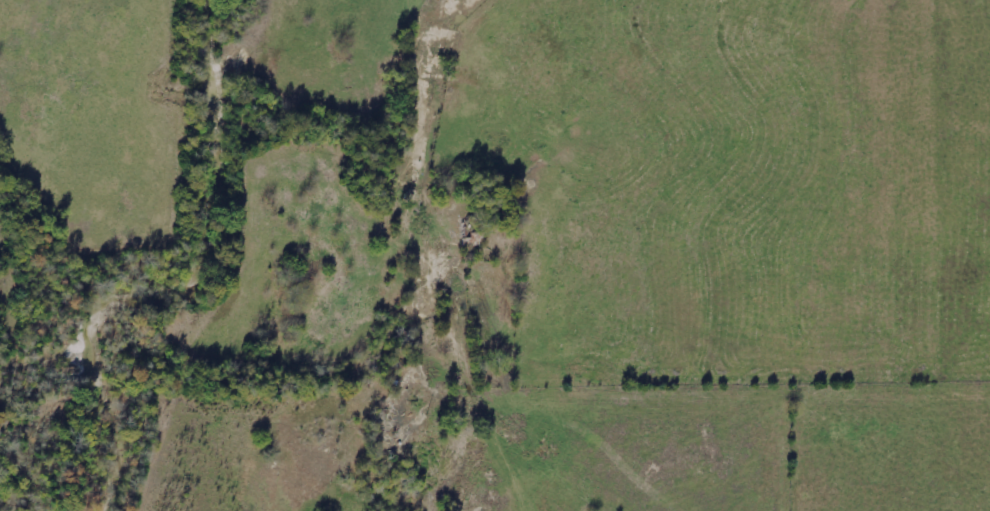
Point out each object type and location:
road: (438, 79)

